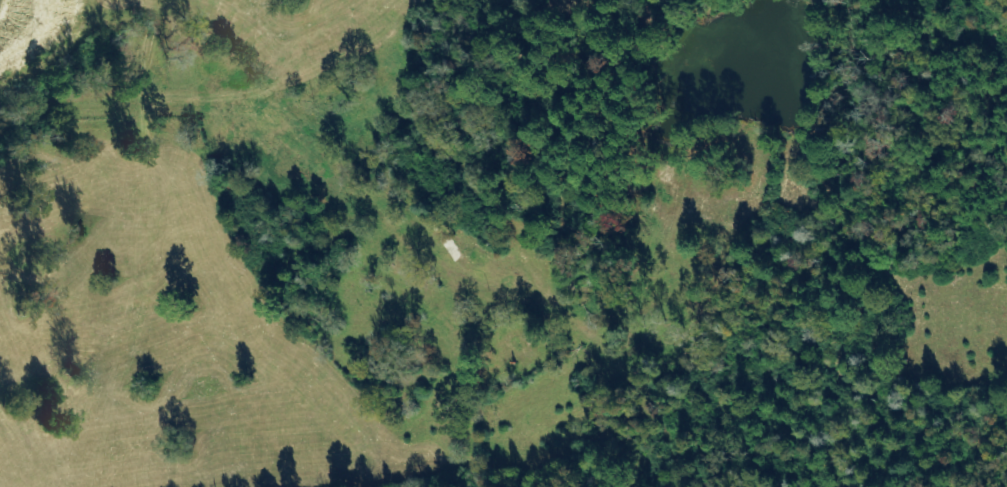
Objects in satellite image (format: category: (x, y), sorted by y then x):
road: (292, 108)

